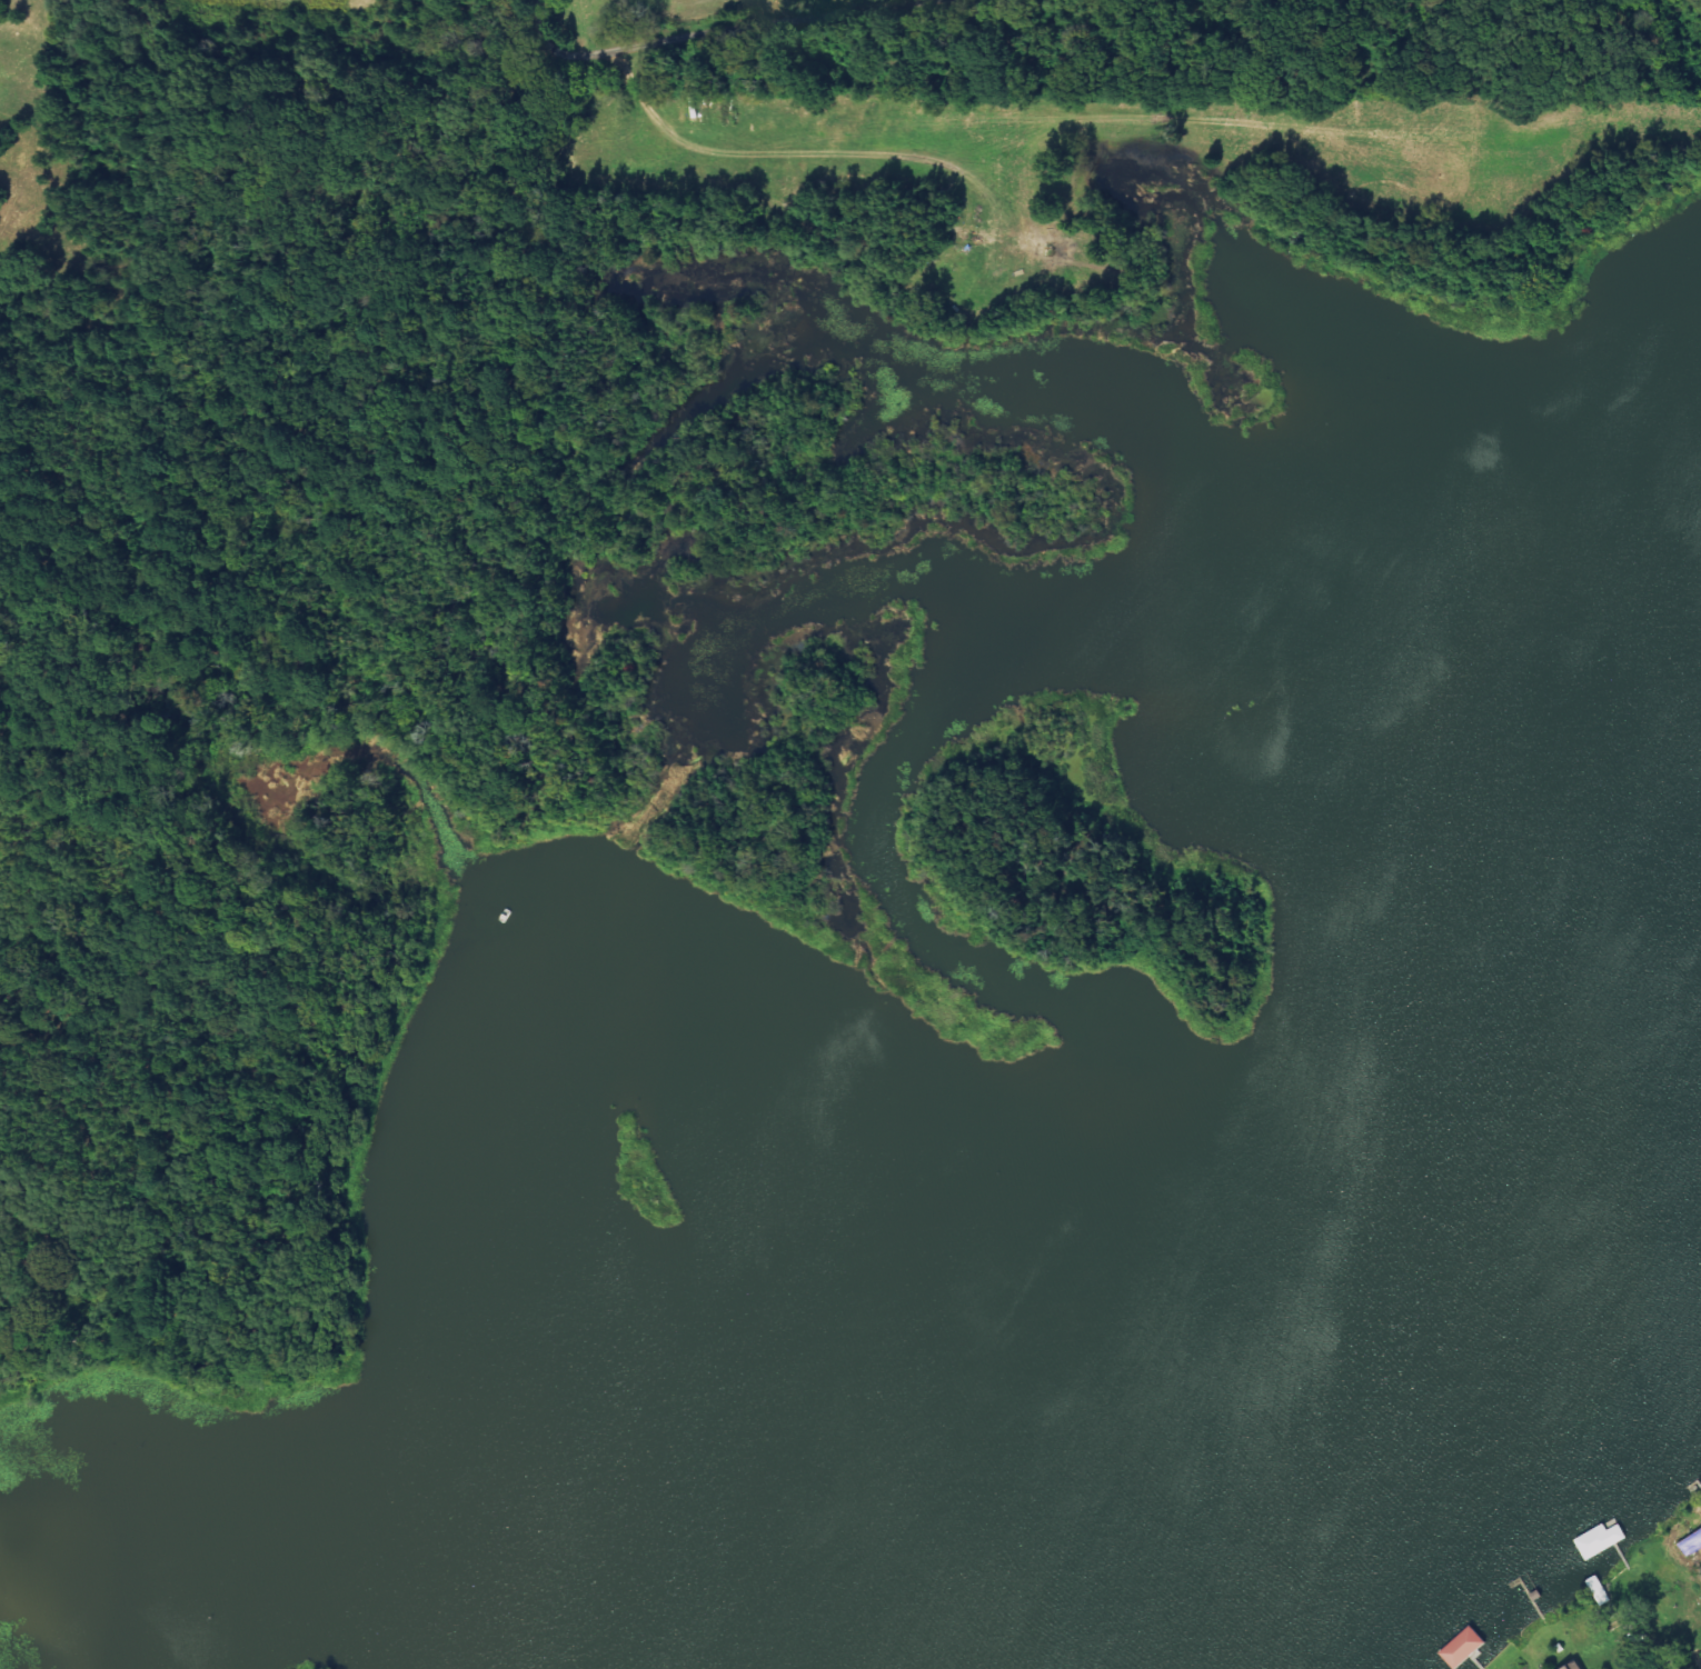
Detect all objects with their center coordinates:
road: (709, 34)
building: (1601, 1541)
building: (1691, 1545)
building: (1464, 1648)
building: (1576, 1666)

